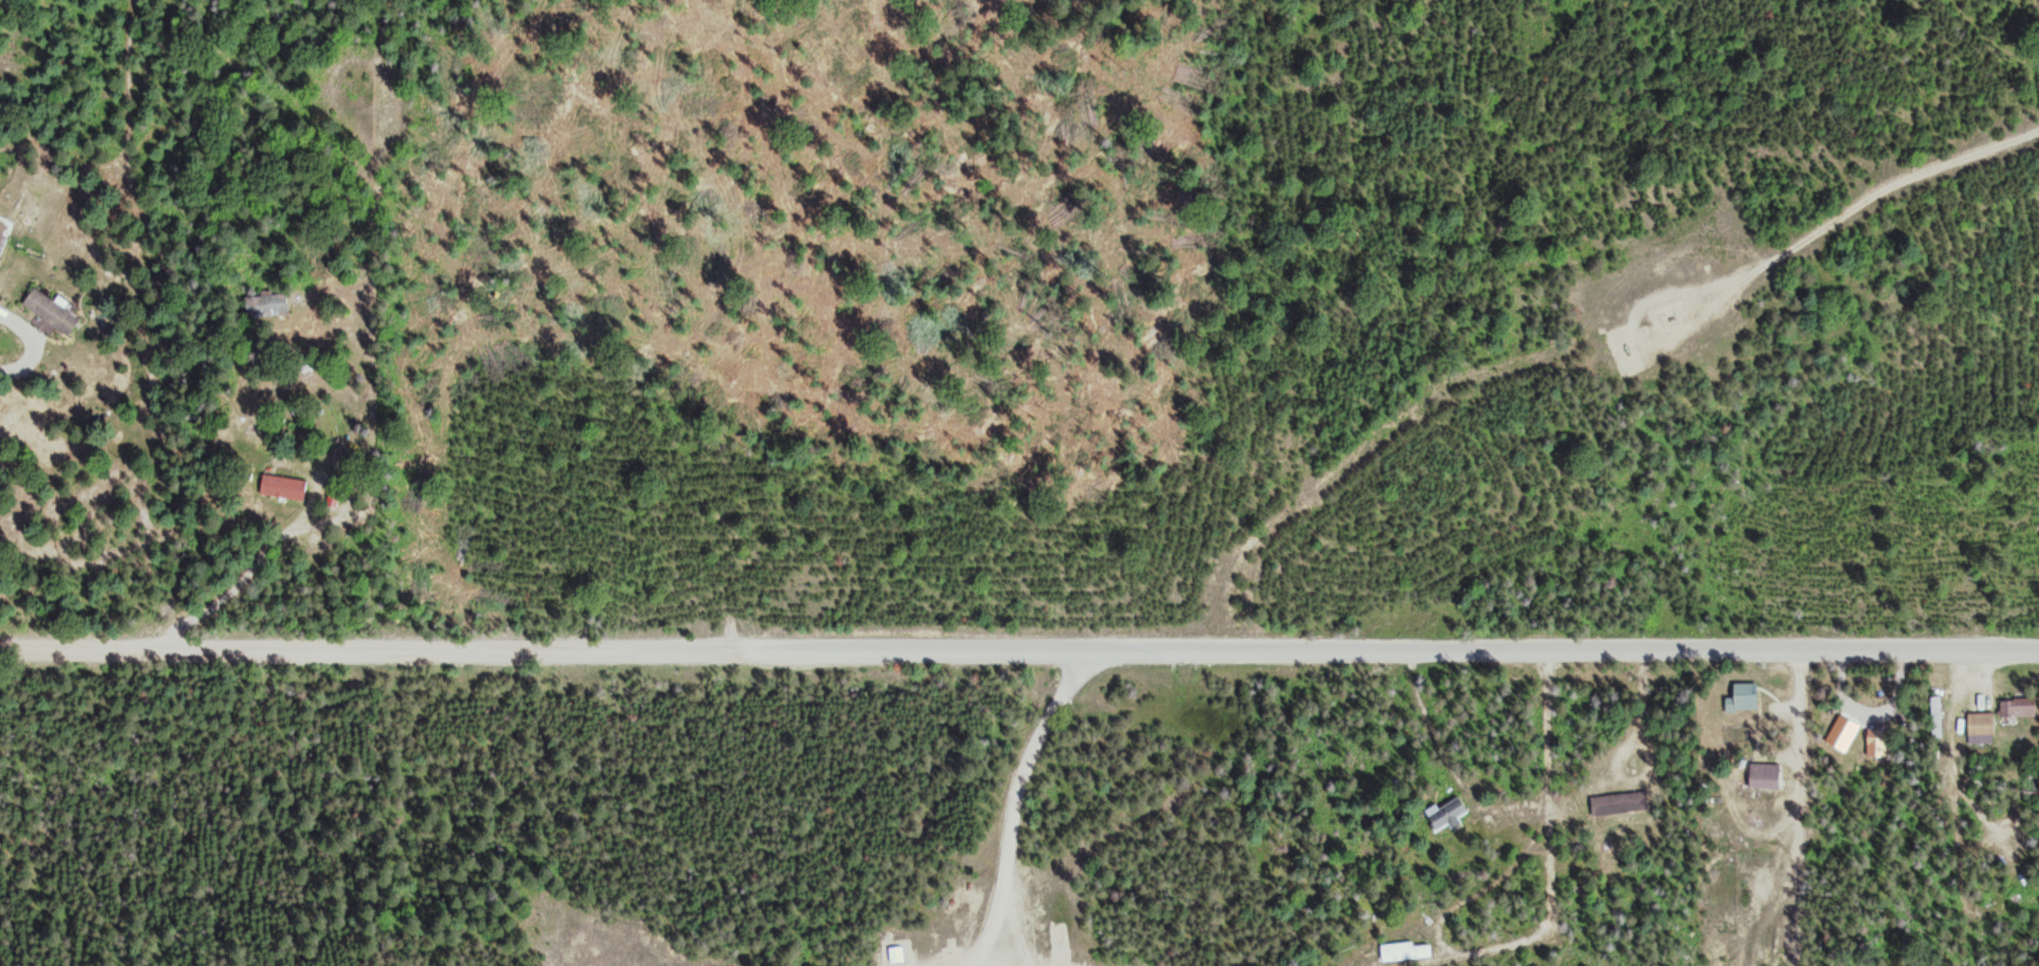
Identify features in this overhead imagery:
road: (1989, 30)
building: (354, 121)
road: (1442, 129)
road: (640, 135)
road: (1870, 182)
building: (266, 305)
petroleum well: (1669, 306)
building: (50, 311)
road: (1634, 328)
road: (1384, 417)
road: (368, 449)
building: (264, 490)
road: (368, 649)
road: (1388, 649)
building: (1744, 696)
building: (2017, 706)
building: (1936, 715)
building: (1980, 726)
building: (1876, 740)
building: (1764, 774)
road: (1013, 802)
building: (1620, 802)
building: (1447, 813)
building: (1405, 950)
building: (896, 953)

